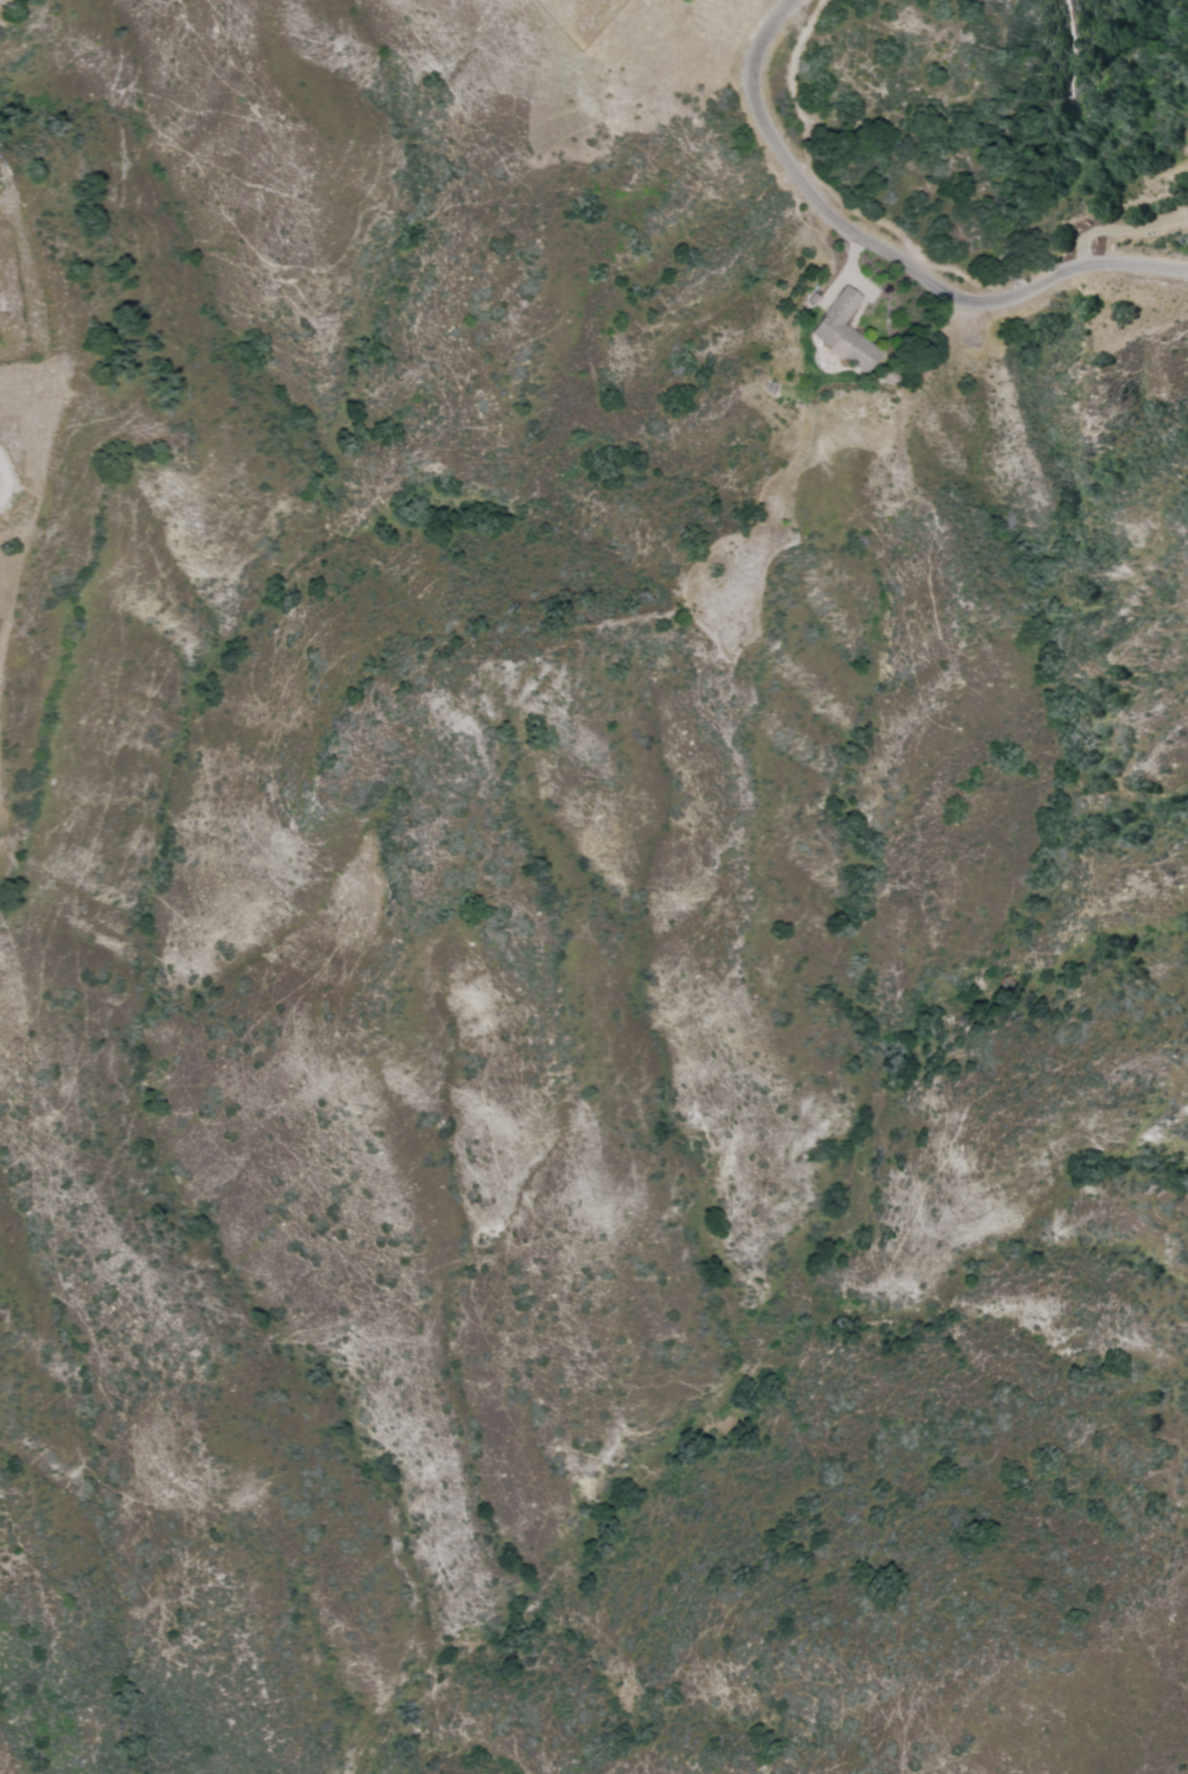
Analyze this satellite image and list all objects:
road: (1174, 6)
road: (908, 133)
road: (1126, 228)
road: (892, 252)
building: (841, 331)
road: (1125, 349)
road: (1157, 583)

